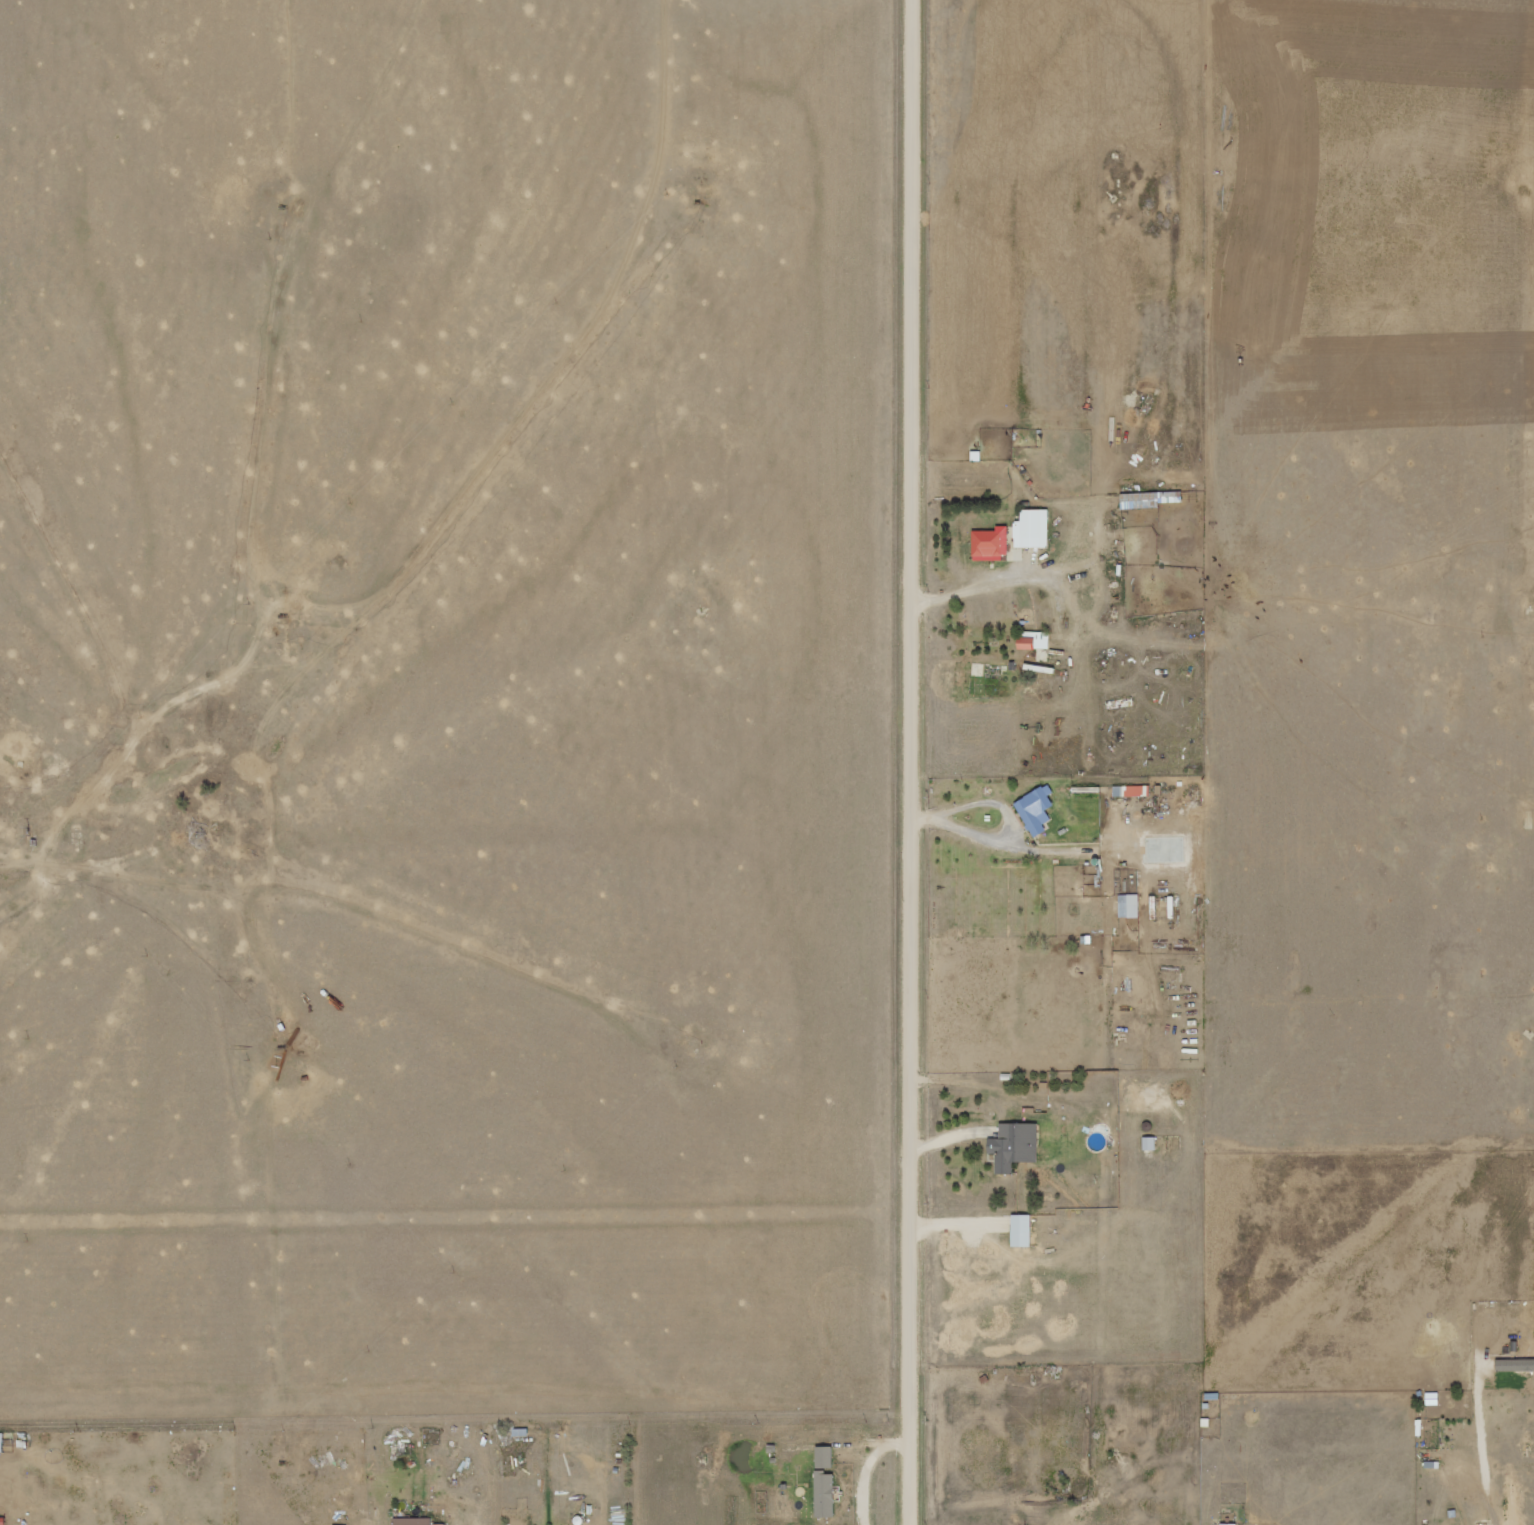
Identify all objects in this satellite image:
building: (1032, 528)
building: (991, 543)
building: (1033, 639)
road: (917, 762)
building: (1136, 790)
building: (1035, 808)
building: (1129, 905)
building: (1014, 1144)
building: (1021, 1230)
building: (2, 1441)
building: (823, 1456)
building: (824, 1493)
building: (414, 1521)
building: (1228, 1523)

